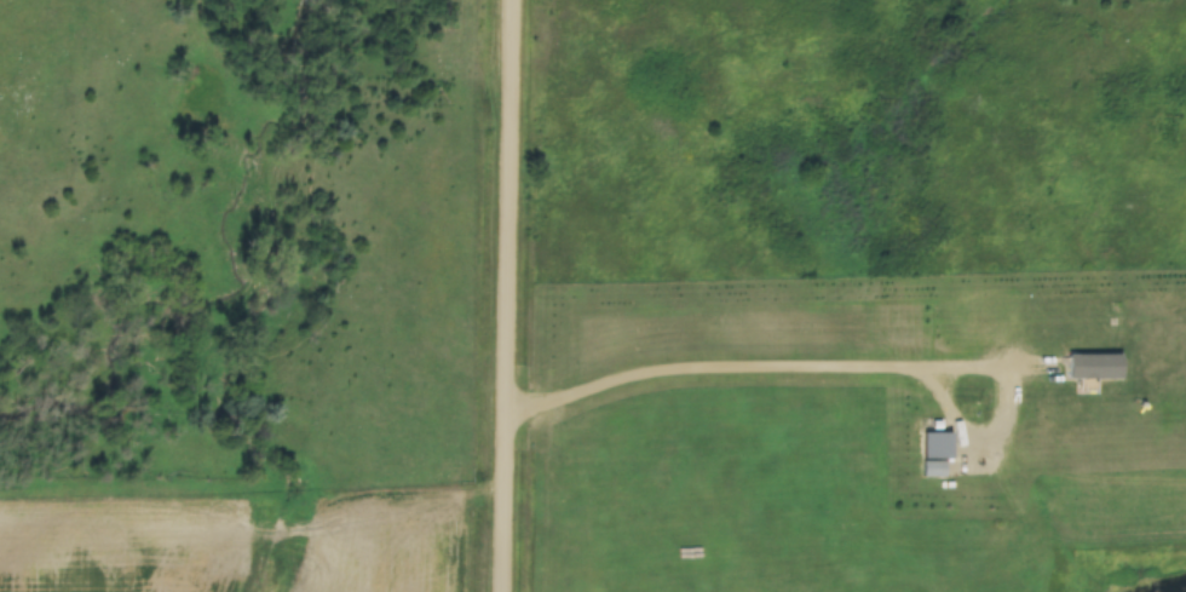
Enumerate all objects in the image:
road: (511, 295)
road: (839, 367)

